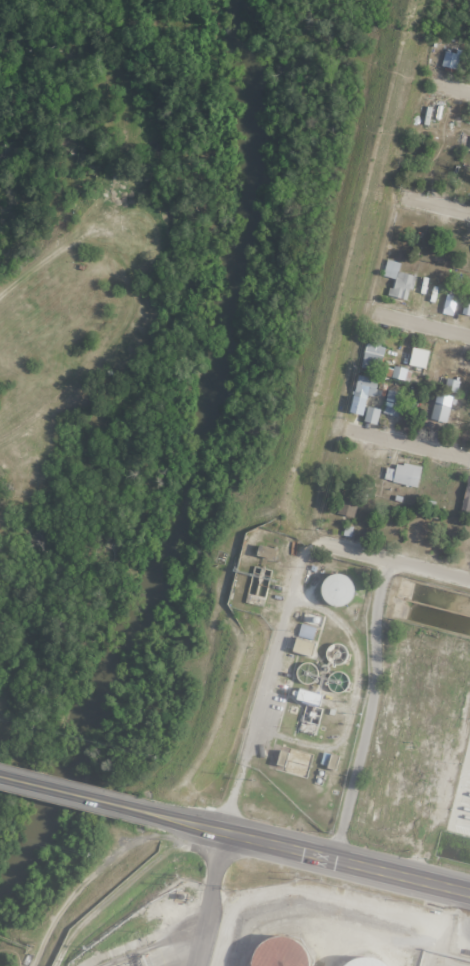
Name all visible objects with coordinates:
building: (452, 62)
road: (457, 90)
road: (438, 207)
building: (389, 268)
building: (405, 286)
road: (131, 303)
building: (453, 305)
building: (465, 311)
road: (423, 327)
road: (66, 334)
building: (377, 358)
building: (421, 358)
building: (367, 384)
building: (449, 384)
building: (394, 401)
building: (360, 404)
road: (17, 411)
building: (443, 412)
building: (372, 414)
building: (403, 419)
park: (61, 445)
road: (411, 448)
river: (200, 457)
road: (42, 474)
building: (373, 474)
building: (410, 475)
building: (465, 495)
building: (347, 505)
building: (270, 553)
road: (394, 562)
building: (340, 588)
storage tank: (340, 588)
building: (308, 634)
building: (307, 649)
building: (314, 700)
road: (371, 710)
building: (310, 729)
road: (4, 750)
building: (286, 761)
building: (336, 764)
road: (74, 793)
road: (309, 851)
road: (203, 898)
building: (284, 954)
storage tank: (284, 954)
building: (370, 963)
storage tank: (370, 963)

